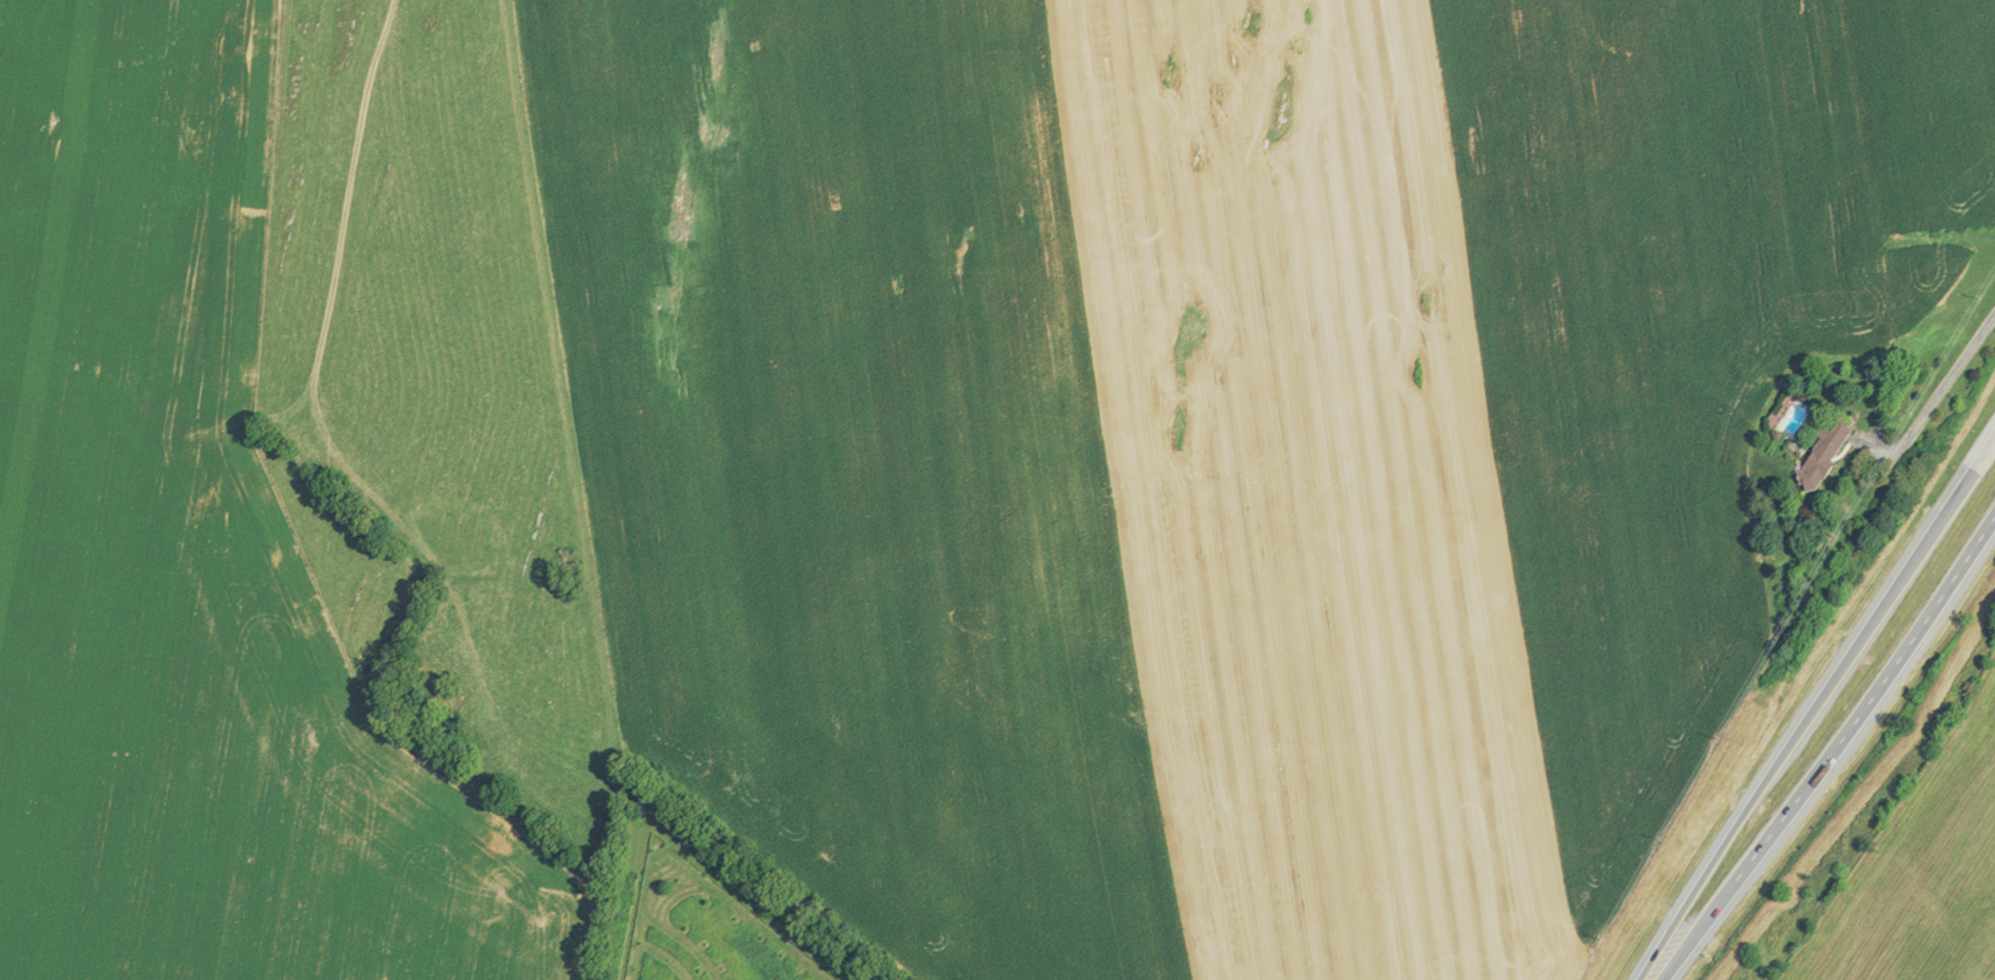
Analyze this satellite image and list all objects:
road: (1952, 390)
building: (1834, 453)
road: (1810, 707)
road: (1869, 709)
road: (1697, 932)

